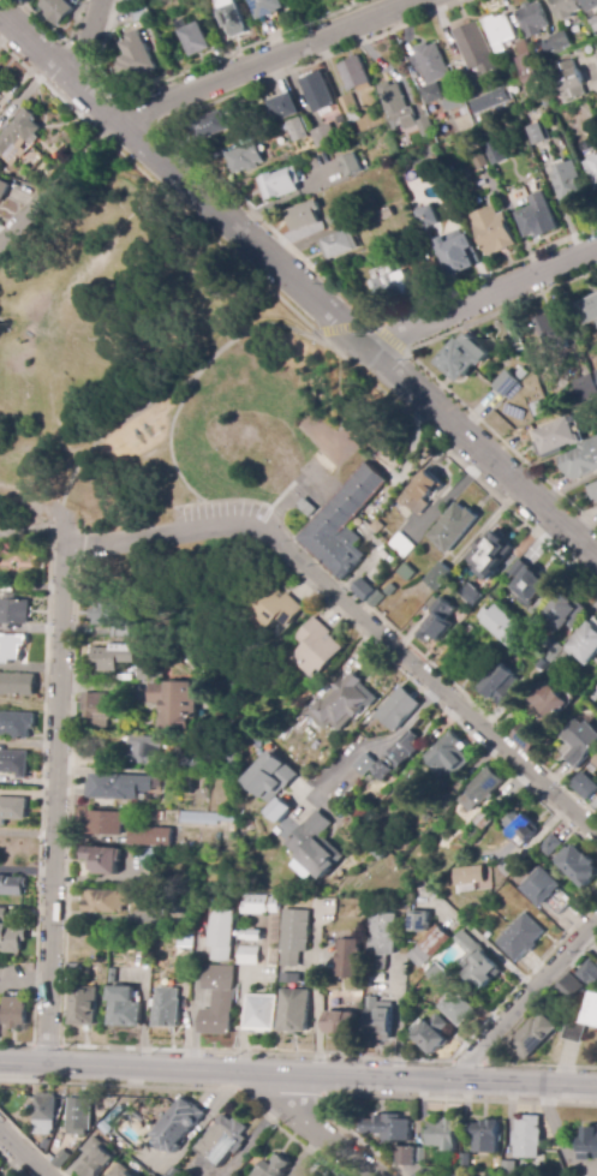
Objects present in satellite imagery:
building: (590, 5)
building: (264, 7)
building: (566, 8)
building: (56, 10)
building: (138, 12)
building: (228, 17)
building: (533, 19)
building: (593, 25)
building: (500, 31)
road: (85, 38)
building: (195, 40)
building: (562, 41)
building: (476, 50)
building: (137, 55)
road: (269, 61)
building: (430, 62)
building: (526, 64)
building: (353, 73)
road: (592, 73)
building: (569, 80)
building: (1, 84)
building: (316, 92)
building: (429, 94)
building: (490, 101)
building: (453, 103)
building: (283, 107)
building: (395, 107)
building: (348, 108)
building: (211, 126)
building: (424, 126)
building: (294, 130)
building: (539, 133)
building: (18, 136)
building: (322, 137)
building: (497, 153)
building: (244, 159)
building: (479, 159)
building: (352, 165)
building: (435, 165)
building: (591, 171)
building: (569, 183)
building: (280, 184)
road: (60, 187)
building: (2, 189)
road: (235, 193)
road: (101, 210)
building: (384, 214)
building: (304, 216)
building: (429, 217)
building: (366, 219)
building: (537, 219)
building: (330, 222)
building: (494, 231)
building: (336, 246)
building: (460, 253)
building: (376, 258)
road: (299, 287)
building: (392, 289)
road: (60, 299)
road: (478, 299)
building: (587, 311)
road: (365, 324)
building: (549, 324)
building: (461, 360)
road: (424, 369)
road: (357, 370)
park: (166, 371)
building: (595, 375)
building: (508, 381)
building: (580, 384)
road: (165, 393)
building: (538, 406)
building: (554, 438)
road: (169, 441)
road: (44, 446)
building: (580, 461)
building: (423, 491)
building: (592, 491)
road: (305, 496)
road: (238, 500)
building: (305, 511)
road: (306, 524)
building: (342, 524)
building: (453, 527)
building: (401, 544)
building: (490, 555)
building: (517, 569)
building: (406, 573)
building: (438, 577)
building: (529, 586)
building: (390, 591)
building: (369, 593)
building: (472, 597)
building: (271, 608)
building: (13, 610)
road: (357, 613)
building: (565, 614)
building: (111, 619)
building: (436, 621)
building: (502, 626)
building: (10, 647)
building: (316, 647)
building: (579, 649)
building: (553, 652)
building: (109, 657)
building: (148, 671)
road: (444, 677)
building: (17, 685)
building: (499, 687)
building: (592, 693)
building: (547, 700)
building: (172, 703)
building: (344, 704)
building: (398, 709)
building: (95, 710)
building: (13, 724)
building: (529, 738)
building: (579, 742)
road: (370, 747)
building: (143, 751)
building: (446, 751)
building: (399, 756)
building: (231, 759)
building: (595, 760)
building: (13, 762)
building: (365, 764)
building: (191, 765)
building: (270, 777)
building: (408, 783)
building: (486, 784)
building: (584, 786)
building: (121, 787)
road: (54, 804)
building: (595, 805)
building: (12, 810)
building: (279, 812)
building: (153, 816)
building: (204, 818)
building: (485, 819)
building: (103, 823)
building: (256, 826)
building: (520, 826)
building: (150, 837)
building: (316, 846)
building: (551, 846)
building: (150, 858)
building: (103, 861)
building: (578, 866)
road: (26, 868)
building: (147, 878)
building: (471, 878)
building: (12, 887)
building: (543, 887)
building: (107, 901)
building: (561, 902)
building: (259, 905)
building: (2, 913)
road: (91, 919)
building: (419, 921)
building: (219, 933)
building: (251, 933)
building: (294, 937)
building: (521, 937)
building: (11, 938)
building: (184, 939)
building: (381, 939)
road: (480, 939)
building: (430, 944)
building: (247, 955)
building: (350, 959)
building: (477, 962)
building: (74, 968)
building: (589, 972)
building: (437, 975)
building: (380, 977)
building: (293, 978)
building: (568, 990)
road: (315, 995)
road: (524, 998)
building: (217, 999)
building: (84, 1007)
building: (124, 1008)
building: (167, 1008)
building: (456, 1009)
building: (14, 1011)
building: (294, 1011)
building: (591, 1011)
building: (261, 1013)
building: (378, 1019)
road: (402, 1020)
building: (340, 1022)
building: (573, 1032)
building: (432, 1034)
building: (533, 1035)
road: (500, 1041)
road: (298, 1076)
building: (46, 1114)
building: (79, 1115)
road: (326, 1124)
building: (177, 1126)
building: (388, 1128)
building: (443, 1134)
building: (485, 1136)
road: (557, 1136)
building: (527, 1138)
building: (223, 1140)
building: (590, 1145)
road: (23, 1152)
building: (410, 1156)
building: (95, 1158)
building: (61, 1159)
building: (464, 1162)
building: (274, 1166)
building: (509, 1169)
building: (119, 1171)
building: (430, 1171)
building: (168, 1174)
building: (447, 1174)
building: (465, 1174)
building: (303, 1175)
building: (310, 1175)
building: (455, 1175)

